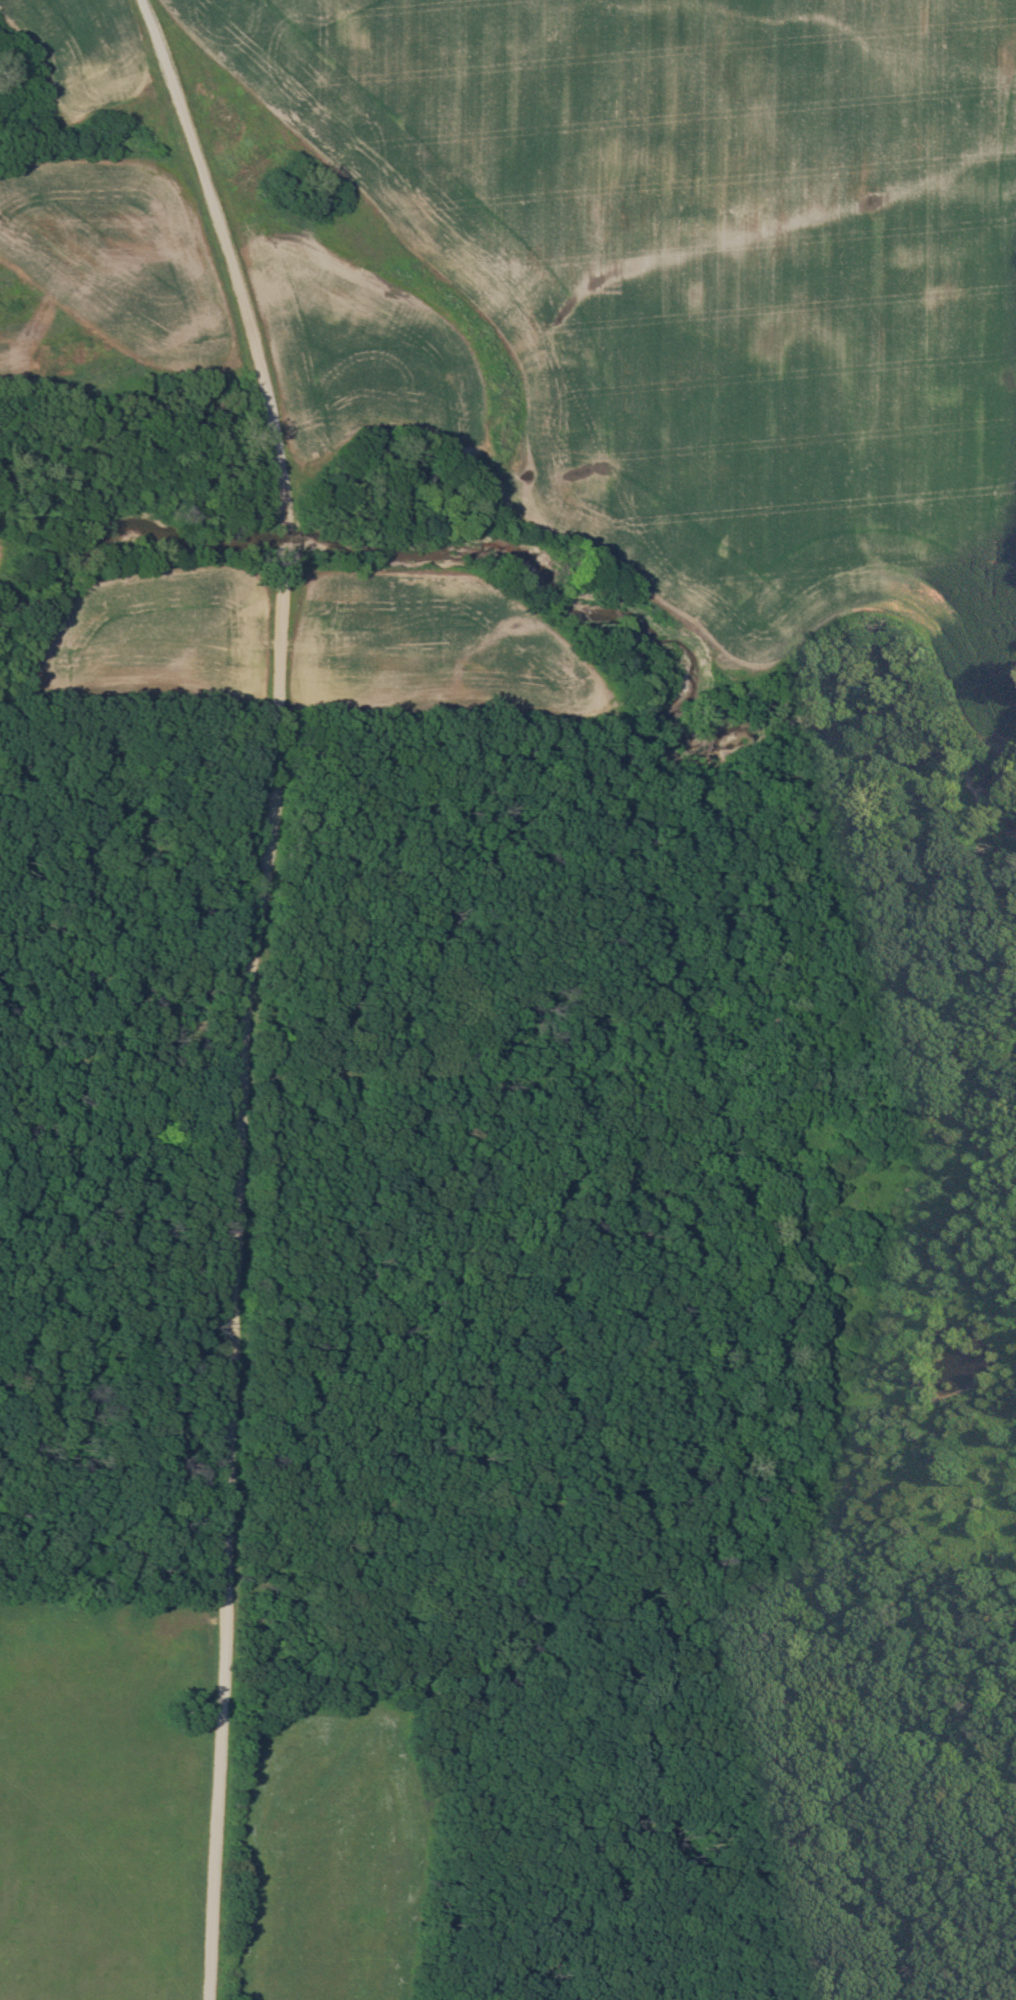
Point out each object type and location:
road: (247, 989)

